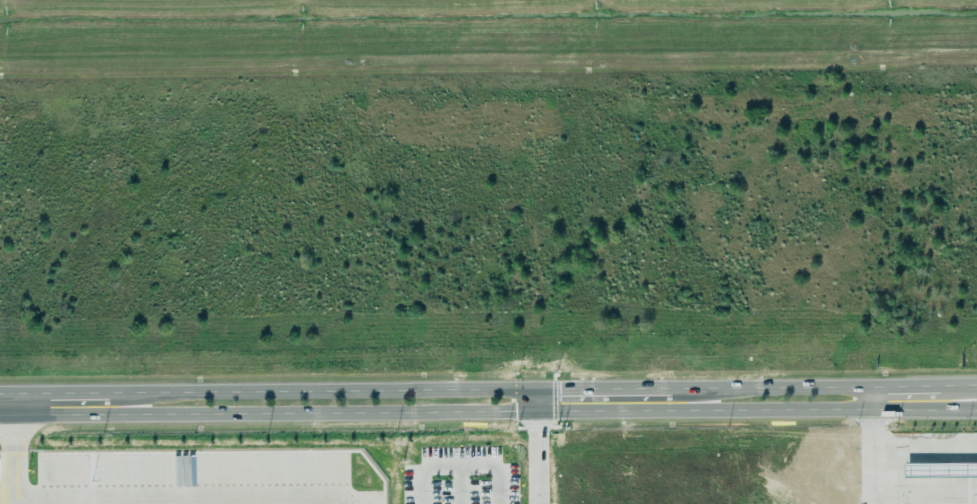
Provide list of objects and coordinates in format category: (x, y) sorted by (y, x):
road: (488, 390)
road: (447, 400)
road: (538, 400)
road: (23, 404)
road: (488, 410)
road: (898, 448)
road: (539, 457)
road: (22, 459)
road: (926, 489)

